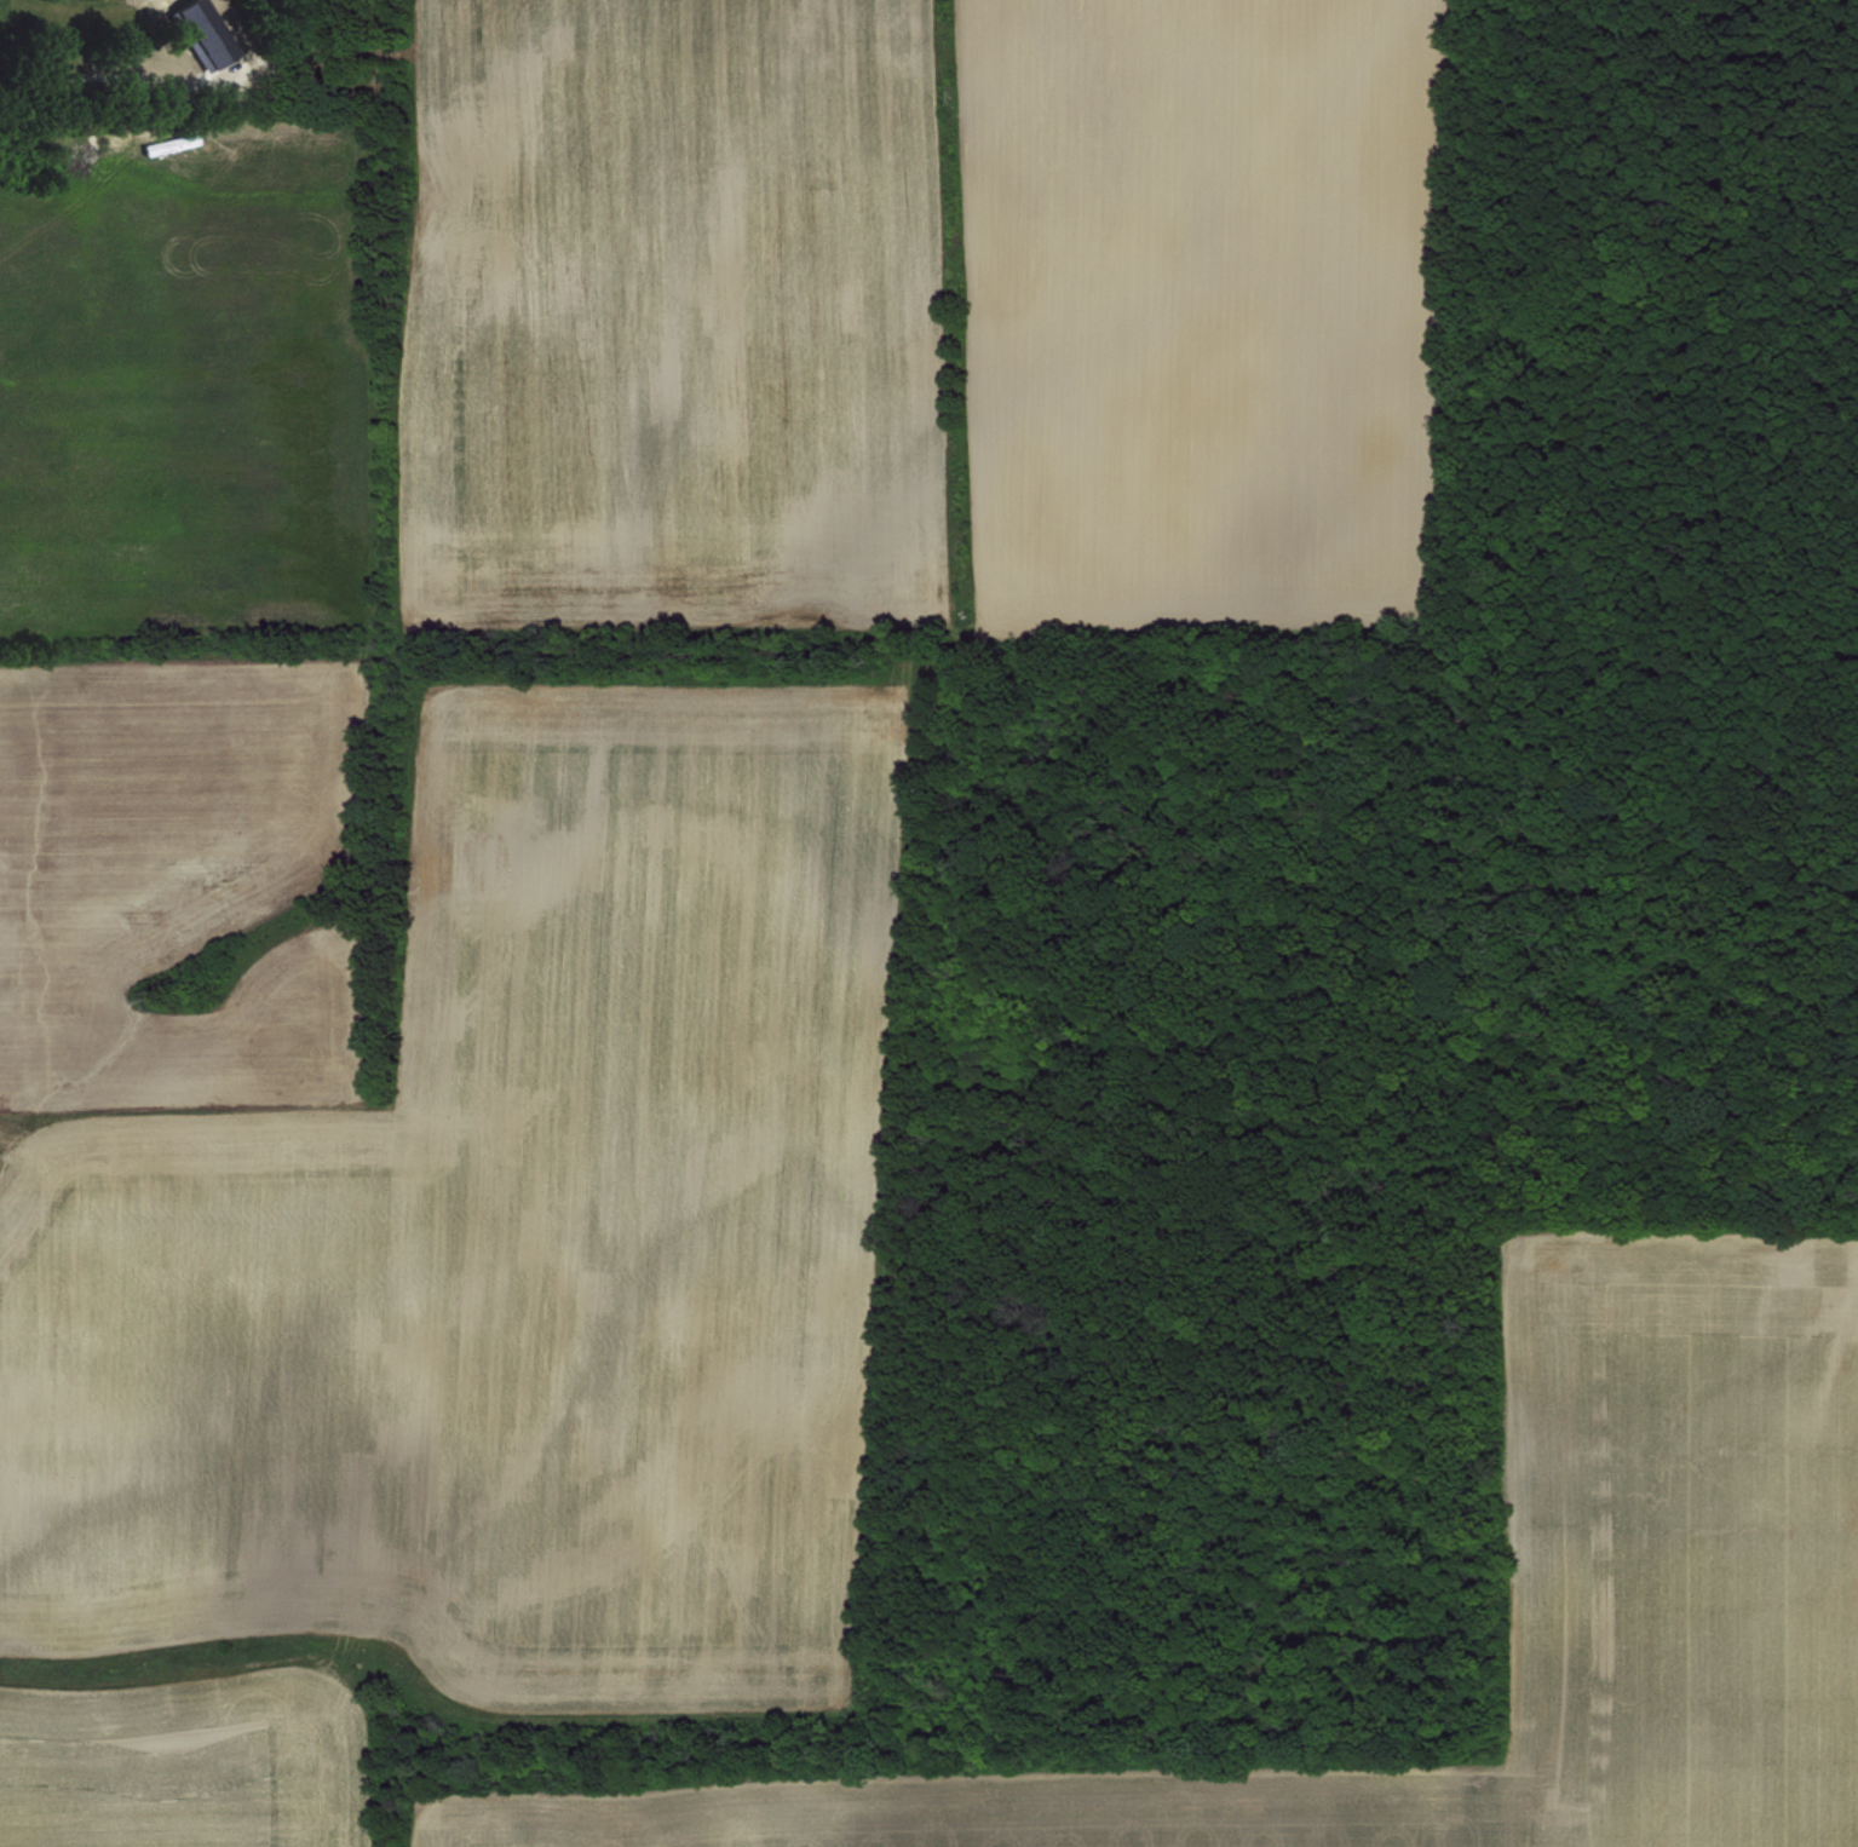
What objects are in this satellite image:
road: (105, 71)

